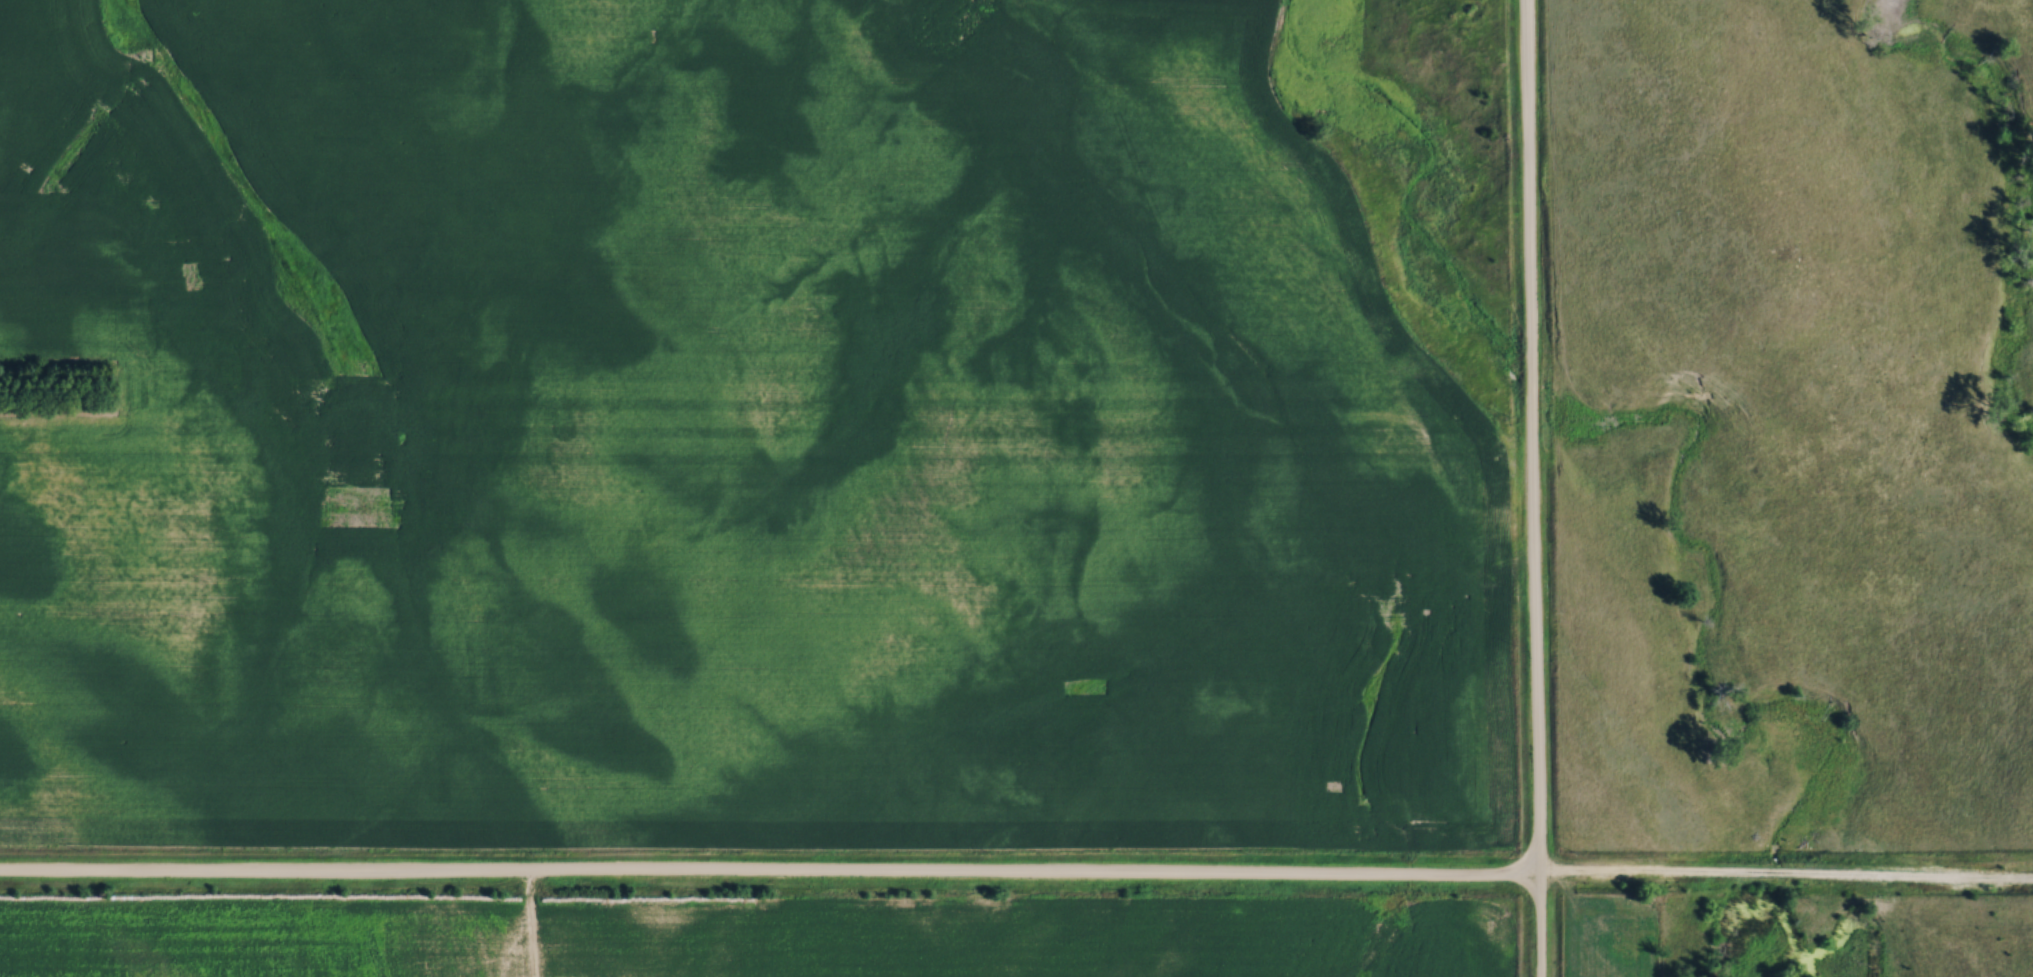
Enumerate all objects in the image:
road: (1534, 488)
road: (1016, 875)

